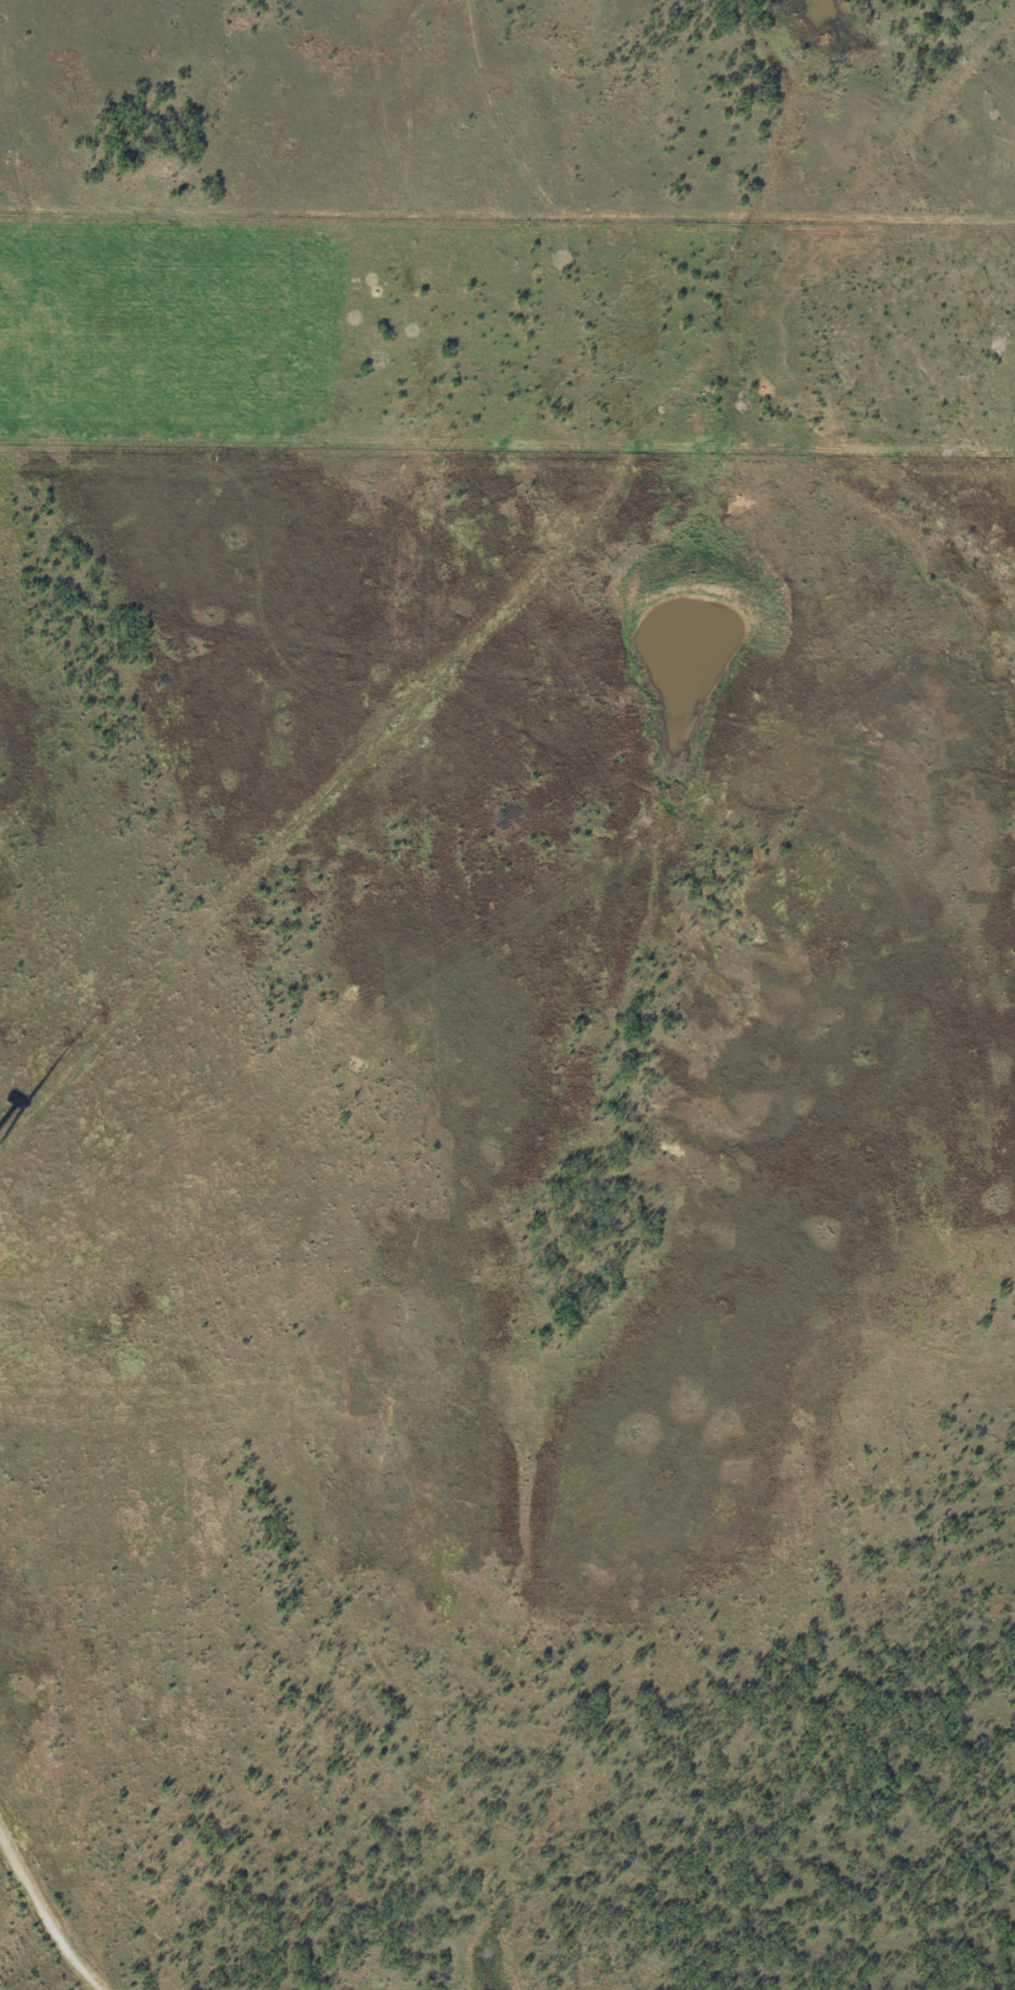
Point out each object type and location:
road: (405, 996)
road: (10, 1968)

